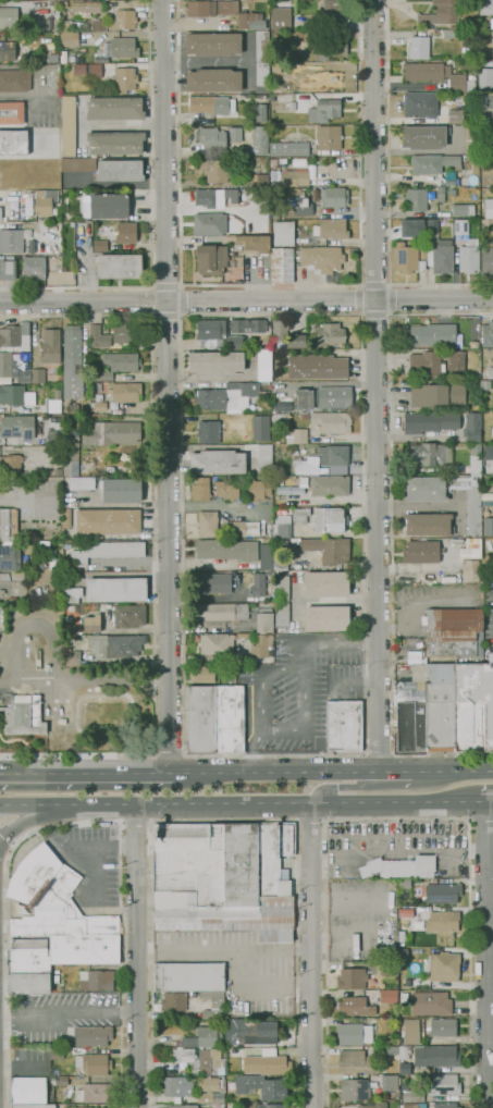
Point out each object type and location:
building: (226, 7)
building: (486, 7)
building: (85, 8)
building: (200, 8)
building: (334, 10)
building: (441, 13)
building: (9, 17)
building: (280, 17)
building: (123, 20)
building: (249, 21)
building: (491, 24)
building: (96, 26)
building: (288, 33)
building: (446, 34)
building: (465, 34)
building: (69, 38)
building: (212, 44)
building: (491, 45)
building: (123, 47)
building: (420, 48)
building: (332, 49)
building: (11, 50)
building: (52, 57)
building: (261, 58)
road: (204, 61)
building: (88, 70)
building: (439, 75)
building: (485, 78)
building: (123, 79)
building: (213, 79)
building: (320, 79)
building: (14, 81)
parking lot: (44, 95)
road: (22, 97)
building: (272, 98)
building: (485, 100)
building: (420, 103)
building: (211, 104)
building: (292, 106)
building: (114, 108)
building: (324, 110)
building: (260, 112)
building: (11, 113)
building: (455, 115)
building: (67, 126)
building: (236, 134)
building: (424, 136)
building: (329, 137)
building: (454, 137)
building: (492, 137)
building: (211, 138)
building: (471, 138)
building: (259, 139)
building: (13, 141)
building: (115, 143)
building: (289, 148)
building: (282, 160)
building: (452, 160)
building: (426, 164)
building: (104, 168)
building: (214, 170)
building: (294, 177)
building: (260, 180)
road: (389, 193)
building: (257, 195)
building: (215, 197)
building: (334, 197)
building: (441, 197)
building: (415, 199)
building: (45, 201)
building: (301, 205)
building: (104, 206)
building: (489, 208)
building: (461, 209)
building: (0, 213)
road: (150, 218)
building: (209, 223)
building: (460, 226)
building: (411, 227)
building: (331, 229)
building: (126, 232)
building: (283, 233)
building: (11, 241)
building: (254, 244)
building: (100, 245)
building: (439, 249)
building: (422, 253)
building: (406, 258)
building: (468, 258)
building: (210, 259)
building: (486, 260)
building: (322, 261)
building: (281, 263)
building: (119, 266)
building: (8, 268)
building: (34, 268)
road: (374, 283)
road: (165, 284)
road: (269, 284)
road: (147, 299)
road: (390, 299)
road: (181, 300)
road: (359, 300)
road: (246, 301)
road: (374, 316)
road: (164, 317)
building: (247, 325)
building: (210, 329)
building: (281, 330)
building: (125, 332)
building: (328, 334)
building: (432, 334)
building: (488, 334)
building: (98, 336)
building: (14, 337)
building: (297, 341)
building: (234, 342)
building: (50, 346)
building: (121, 361)
building: (427, 361)
building: (72, 362)
building: (215, 362)
building: (456, 362)
building: (263, 365)
building: (317, 366)
building: (12, 368)
building: (490, 369)
building: (41, 374)
building: (102, 377)
building: (484, 383)
road: (375, 384)
road: (165, 385)
building: (124, 392)
building: (436, 394)
building: (15, 395)
building: (231, 395)
building: (334, 396)
building: (304, 398)
building: (53, 406)
building: (98, 406)
building: (279, 406)
building: (304, 415)
building: (281, 418)
building: (331, 421)
building: (429, 421)
building: (16, 427)
building: (259, 427)
building: (472, 427)
building: (208, 431)
building: (492, 432)
building: (112, 433)
building: (297, 436)
building: (54, 438)
building: (486, 451)
building: (70, 452)
building: (426, 455)
building: (264, 456)
building: (321, 459)
building: (217, 461)
building: (10, 465)
building: (474, 465)
building: (303, 481)
building: (81, 482)
building: (329, 485)
building: (200, 489)
building: (426, 489)
building: (121, 490)
building: (227, 490)
building: (258, 490)
building: (289, 490)
parking lot: (32, 495)
road: (26, 498)
building: (470, 500)
building: (488, 503)
building: (300, 515)
building: (66, 518)
building: (328, 519)
building: (108, 521)
building: (8, 524)
building: (207, 524)
building: (428, 524)
building: (243, 528)
building: (283, 530)
road: (391, 533)
road: (151, 537)
building: (456, 541)
building: (328, 549)
building: (471, 549)
building: (226, 550)
building: (108, 551)
building: (421, 552)
building: (266, 555)
building: (9, 557)
building: (471, 570)
building: (268, 573)
building: (214, 582)
building: (326, 583)
building: (258, 584)
building: (281, 588)
building: (116, 589)
building: (72, 594)
building: (221, 612)
building: (281, 614)
building: (128, 616)
parking lot: (488, 616)
building: (325, 618)
building: (263, 621)
building: (91, 624)
building: (455, 625)
building: (243, 635)
road: (15, 642)
road: (324, 642)
building: (217, 643)
building: (115, 645)
building: (261, 645)
building: (452, 648)
building: (72, 657)
building: (37, 658)
road: (284, 666)
building: (202, 673)
road: (84, 680)
building: (435, 680)
parking lot: (344, 682)
building: (97, 688)
parking lot: (295, 689)
building: (477, 692)
building: (23, 715)
building: (215, 718)
building: (344, 726)
building: (440, 726)
building: (469, 726)
building: (409, 728)
road: (379, 752)
road: (169, 753)
road: (185, 753)
road: (330, 768)
road: (84, 773)
road: (383, 785)
road: (459, 793)
road: (282, 802)
road: (36, 804)
road: (33, 815)
road: (482, 817)
road: (470, 818)
road: (396, 820)
road: (222, 821)
road: (134, 822)
road: (74, 823)
road: (309, 824)
road: (4, 837)
road: (12, 844)
road: (396, 850)
building: (275, 855)
building: (241, 863)
building: (403, 866)
building: (44, 883)
building: (404, 883)
building: (206, 886)
building: (442, 892)
building: (405, 912)
building: (442, 921)
building: (74, 936)
road: (274, 948)
building: (403, 952)
road: (485, 953)
road: (310, 955)
road: (135, 956)
road: (239, 956)
building: (29, 967)
building: (443, 967)
building: (386, 970)
building: (189, 976)
building: (352, 978)
building: (96, 980)
building: (387, 996)
building: (404, 997)
building: (173, 1000)
building: (214, 1002)
building: (430, 1002)
building: (355, 1007)
road: (120, 1011)
road: (52, 1013)
building: (443, 1026)
building: (410, 1031)
building: (354, 1032)
building: (251, 1033)
building: (93, 1035)
building: (202, 1037)
building: (392, 1049)
building: (404, 1051)
building: (57, 1054)
building: (436, 1056)
building: (201, 1060)
building: (356, 1061)
building: (94, 1063)
building: (267, 1064)
building: (405, 1068)
building: (60, 1080)
building: (389, 1083)
building: (444, 1085)
building: (177, 1086)
building: (261, 1086)
building: (209, 1089)
building: (354, 1089)
building: (27, 1091)
building: (94, 1093)
building: (412, 1094)
building: (373, 1105)
building: (444, 1105)
building: (34, 1106)
building: (182, 1106)
building: (270, 1106)

